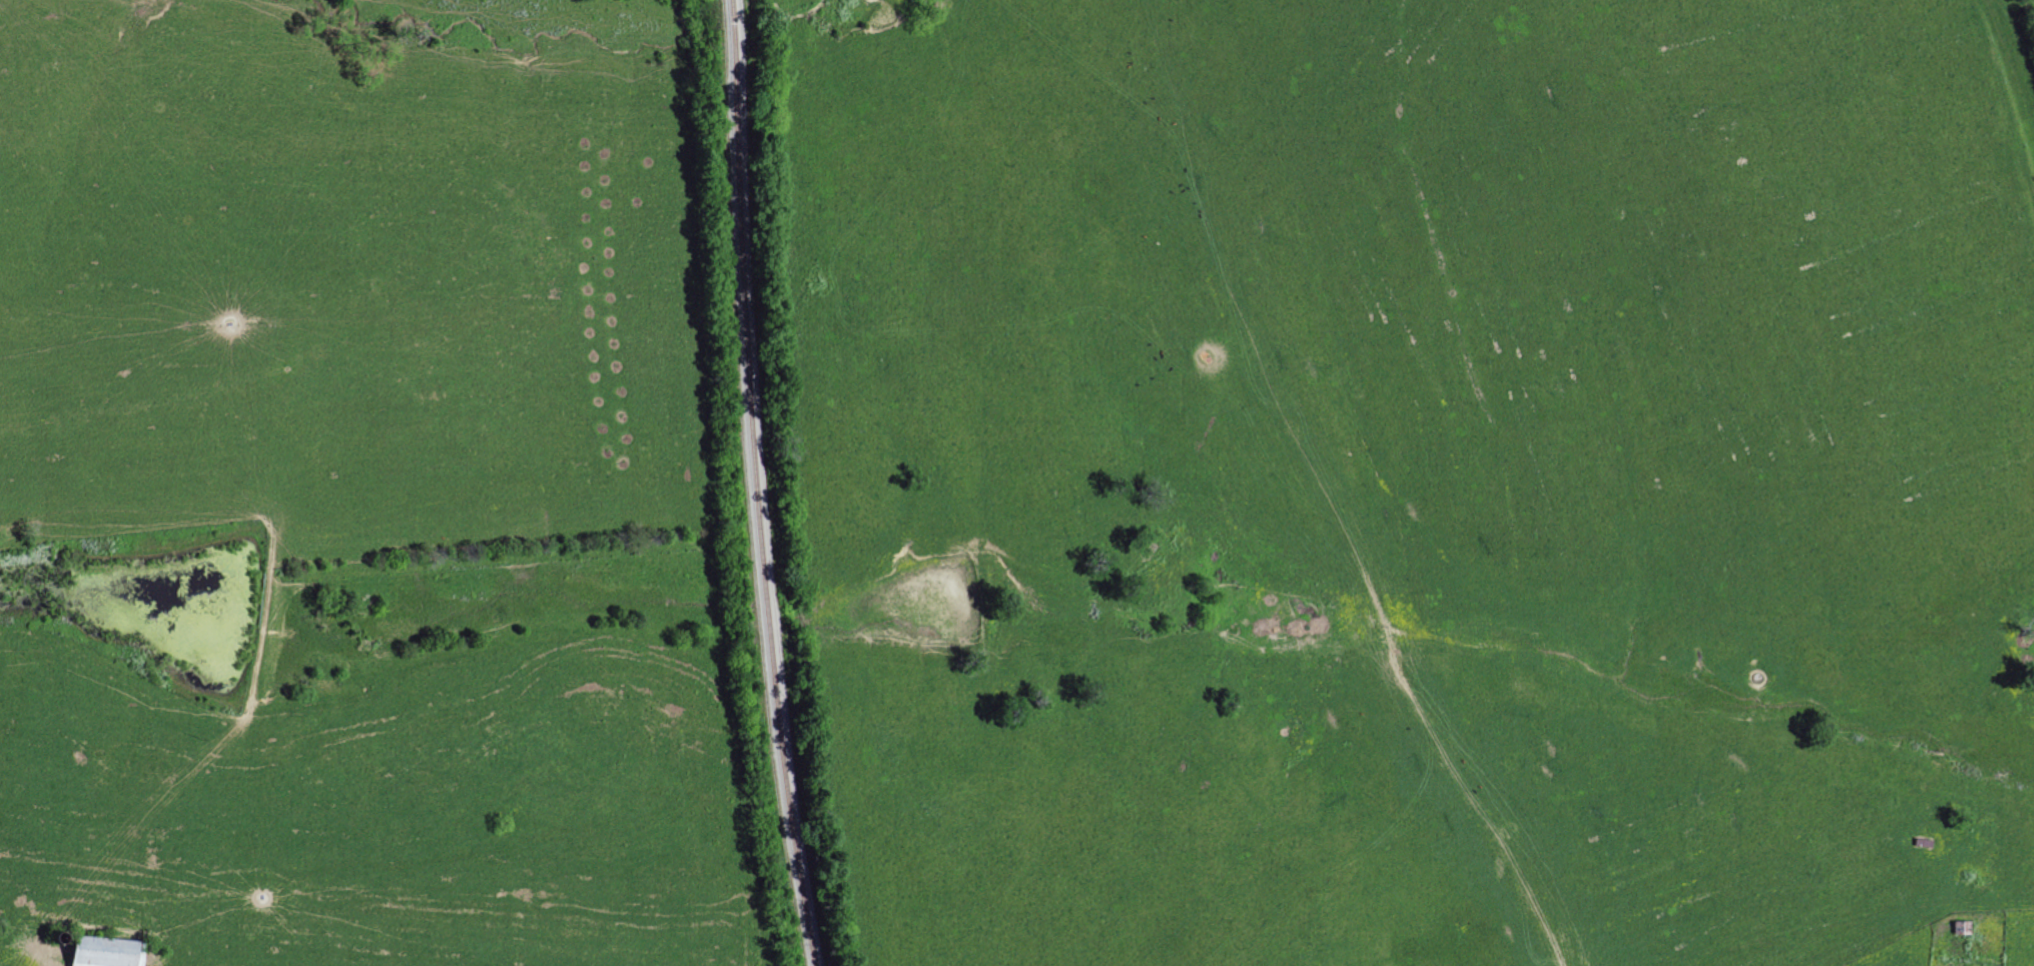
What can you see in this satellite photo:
railway: (762, 484)
building: (101, 952)

